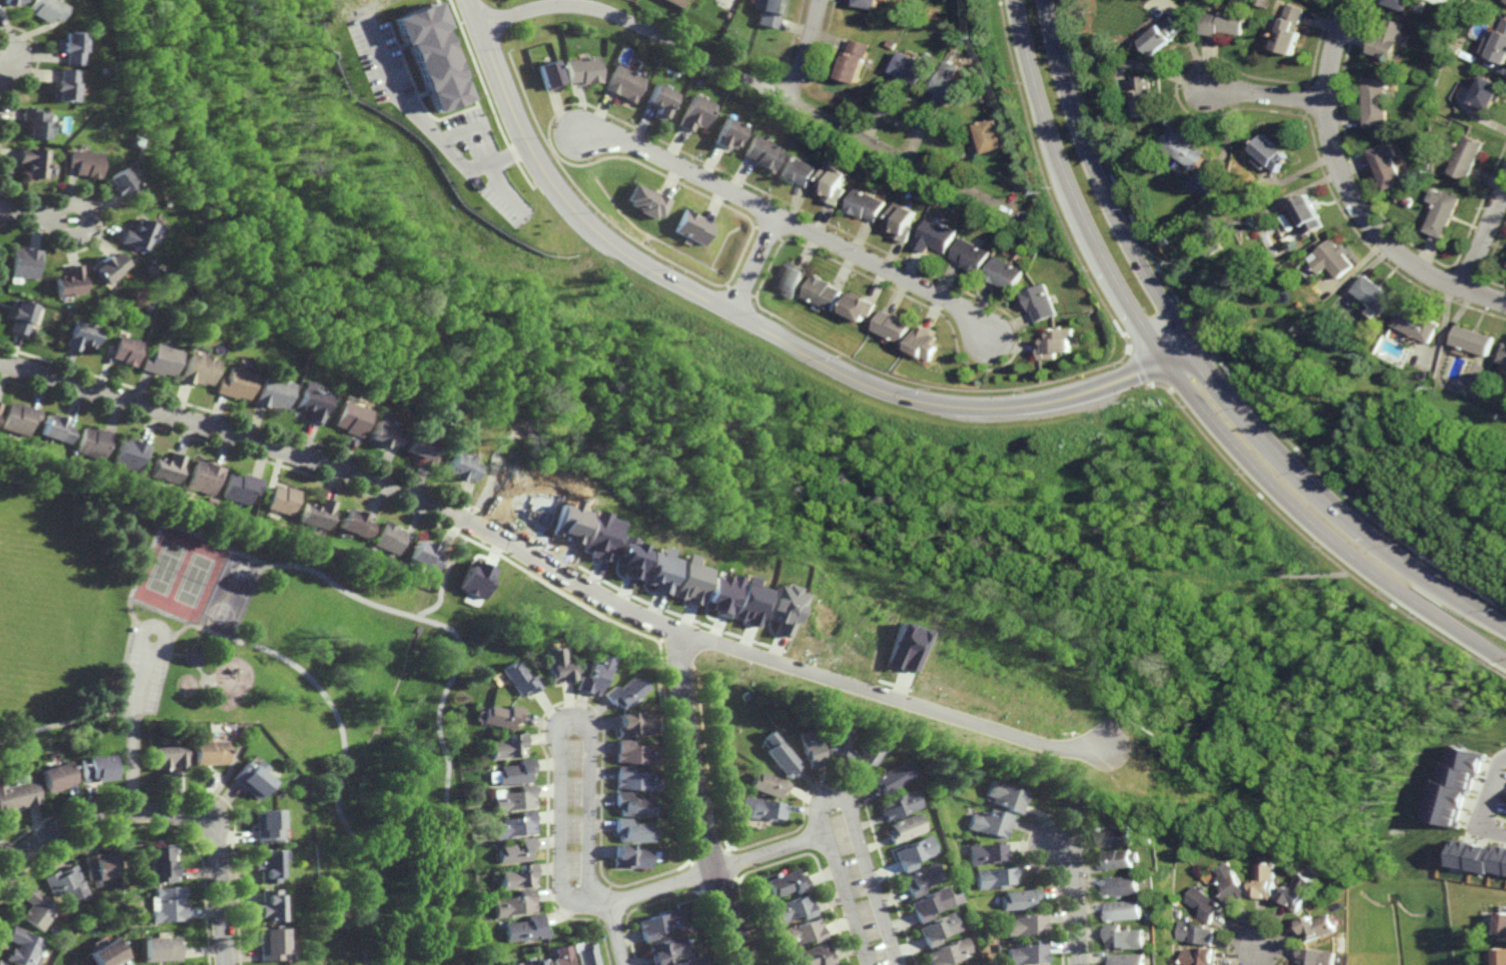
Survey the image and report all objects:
building: (16, 1)
building: (676, 2)
building: (867, 2)
building: (1505, 2)
building: (1398, 3)
building: (47, 9)
building: (723, 12)
building: (765, 12)
building: (911, 12)
building: (1225, 21)
road: (638, 27)
building: (1291, 27)
building: (88, 31)
building: (1161, 34)
building: (1386, 38)
building: (1499, 43)
building: (892, 44)
building: (70, 46)
building: (1455, 48)
road: (807, 51)
building: (430, 56)
building: (854, 59)
road: (3, 65)
building: (910, 65)
building: (583, 68)
building: (106, 70)
building: (549, 72)
building: (624, 81)
building: (950, 81)
building: (64, 84)
building: (1486, 91)
building: (1144, 94)
road: (1265, 95)
building: (659, 98)
building: (1374, 101)
building: (695, 111)
building: (36, 122)
road: (421, 128)
building: (726, 132)
building: (990, 134)
building: (1184, 148)
building: (761, 152)
building: (1270, 152)
building: (1466, 156)
road: (905, 159)
building: (34, 161)
building: (83, 162)
building: (1386, 164)
building: (797, 170)
road: (187, 177)
building: (832, 183)
building: (119, 184)
road: (1349, 191)
building: (645, 203)
building: (865, 204)
building: (1441, 211)
building: (1310, 212)
road: (27, 214)
road: (55, 217)
building: (902, 220)
road: (791, 221)
building: (1272, 222)
building: (689, 227)
building: (137, 234)
building: (936, 235)
road: (1485, 239)
building: (1164, 241)
building: (1211, 246)
building: (971, 255)
building: (1335, 258)
building: (25, 263)
road: (754, 264)
building: (109, 266)
building: (149, 269)
building: (1005, 273)
building: (792, 278)
building: (70, 282)
building: (823, 292)
building: (1374, 296)
building: (1041, 301)
building: (858, 306)
building: (146, 307)
building: (22, 317)
building: (1416, 324)
building: (894, 325)
road: (760, 330)
building: (81, 335)
building: (1471, 341)
building: (924, 343)
building: (1057, 343)
building: (125, 350)
building: (1293, 354)
building: (160, 360)
building: (1503, 360)
road: (1205, 363)
building: (197, 369)
building: (235, 383)
road: (1187, 383)
building: (271, 393)
building: (310, 404)
building: (0, 405)
building: (20, 419)
building: (348, 419)
building: (57, 430)
building: (382, 435)
building: (94, 443)
building: (417, 449)
building: (131, 454)
building: (168, 468)
building: (458, 468)
building: (205, 477)
building: (242, 488)
building: (283, 500)
building: (317, 513)
building: (353, 524)
building: (598, 536)
building: (386, 537)
building: (322, 551)
building: (423, 556)
building: (626, 557)
road: (551, 568)
building: (657, 570)
road: (138, 575)
road: (446, 575)
road: (1324, 575)
park: (178, 579)
building: (476, 580)
building: (687, 581)
building: (717, 593)
building: (747, 602)
road: (386, 609)
building: (781, 609)
road: (160, 611)
road: (166, 632)
building: (903, 648)
building: (554, 665)
building: (589, 674)
building: (517, 675)
building: (496, 679)
park: (256, 688)
building: (620, 690)
building: (740, 693)
building: (794, 708)
building: (497, 714)
road: (561, 721)
building: (629, 722)
road: (66, 723)
building: (206, 724)
road: (133, 730)
road: (344, 741)
building: (837, 741)
building: (504, 744)
building: (807, 745)
building: (205, 749)
building: (632, 751)
building: (867, 752)
building: (777, 753)
building: (166, 756)
building: (92, 767)
building: (514, 770)
building: (53, 775)
building: (891, 775)
building: (249, 777)
building: (632, 778)
building: (724, 783)
building: (764, 783)
building: (1456, 788)
building: (16, 794)
road: (833, 794)
building: (1005, 796)
building: (513, 798)
road: (696, 803)
building: (631, 804)
building: (899, 804)
road: (1487, 805)
building: (762, 808)
road: (163, 813)
building: (991, 822)
building: (513, 824)
building: (264, 825)
building: (904, 827)
building: (631, 830)
building: (1117, 836)
building: (1152, 841)
road: (9, 850)
building: (514, 850)
building: (312, 852)
building: (914, 852)
road: (770, 853)
building: (987, 853)
building: (629, 856)
building: (1480, 857)
building: (1120, 859)
building: (101, 864)
building: (160, 864)
building: (265, 866)
building: (1140, 875)
building: (516, 876)
building: (995, 877)
building: (921, 879)
building: (1270, 882)
building: (67, 883)
building: (788, 883)
building: (1235, 885)
building: (1122, 886)
road: (660, 888)
building: (1303, 892)
building: (1020, 899)
road: (1076, 901)
building: (930, 903)
building: (168, 904)
building: (514, 904)
building: (267, 905)
building: (1207, 905)
building: (794, 909)
building: (38, 910)
building: (1125, 910)
building: (1177, 913)
building: (1152, 916)
building: (1501, 921)
building: (659, 923)
road: (615, 924)
building: (1027, 925)
building: (1321, 927)
building: (938, 928)
building: (525, 929)
building: (803, 932)
building: (1197, 933)
building: (1125, 937)
building: (272, 944)
building: (24, 947)
building: (158, 948)
building: (666, 949)
building: (696, 949)
building: (948, 952)
building: (107, 953)
building: (1029, 953)
building: (589, 954)
building: (564, 955)
building: (814, 956)
road: (1260, 956)
building: (1201, 957)
building: (1320, 957)
building: (1500, 957)
building: (1128, 960)
building: (693, 961)
building: (537, 962)
building: (2, 963)
building: (515, 964)

